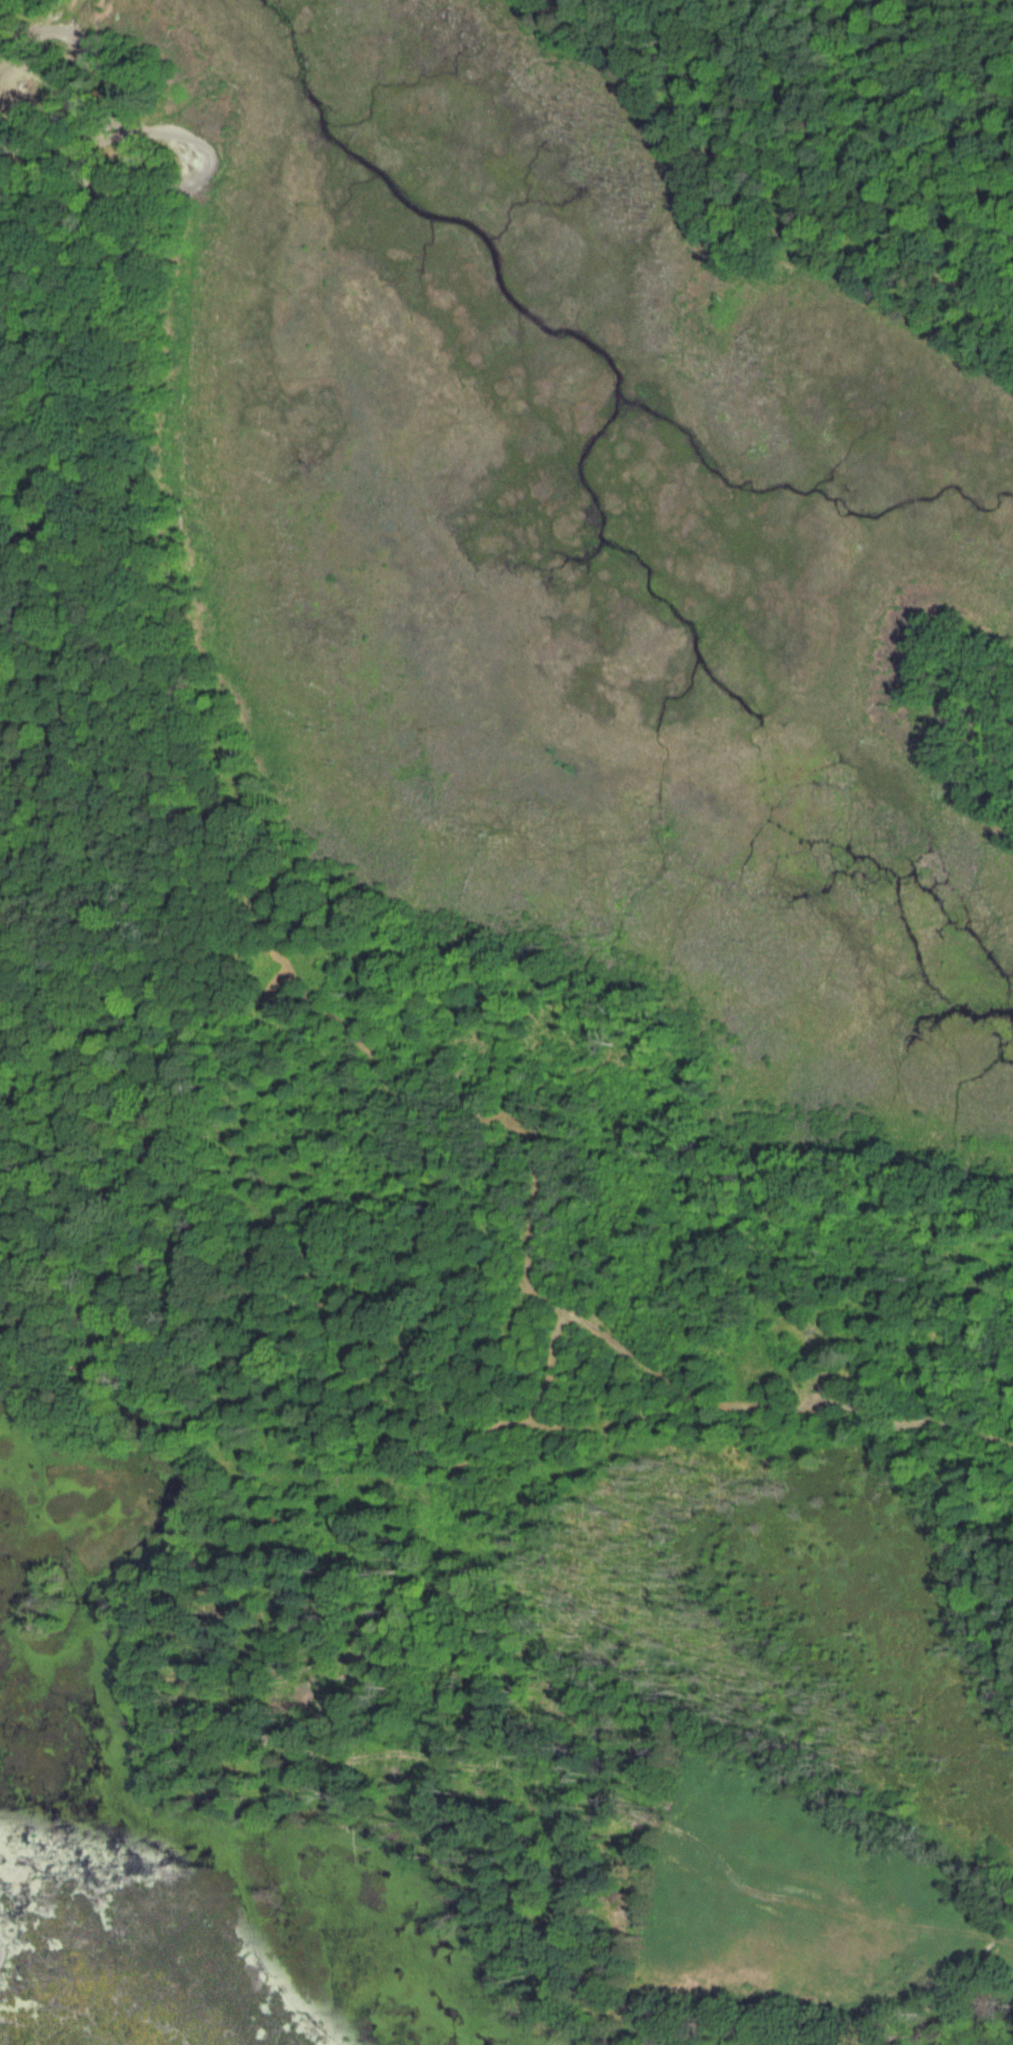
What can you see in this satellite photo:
road: (687, 1382)

